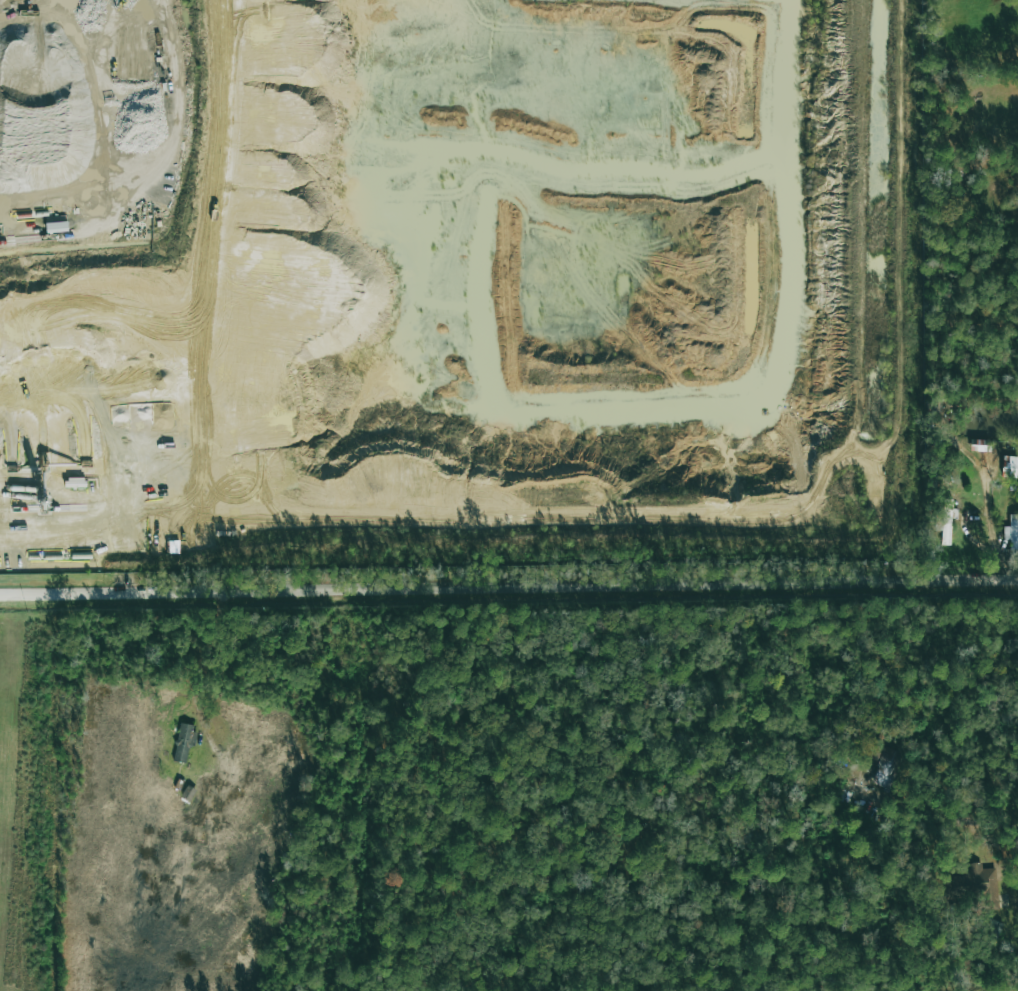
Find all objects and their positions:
building: (1012, 464)
road: (982, 486)
road: (980, 510)
building: (944, 522)
building: (1012, 534)
road: (508, 587)
road: (206, 662)
building: (183, 743)
building: (885, 764)
building: (984, 884)

